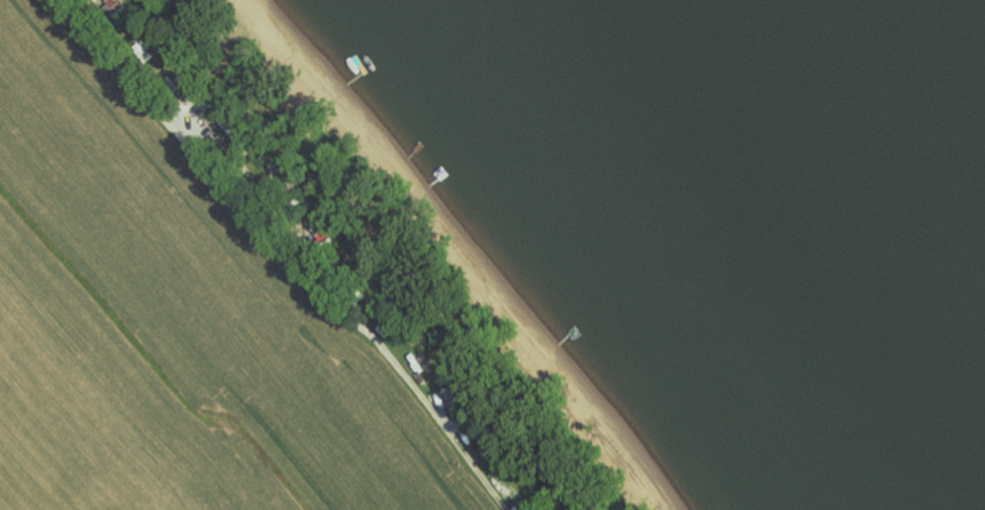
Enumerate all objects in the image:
river: (960, 33)
road: (285, 257)

